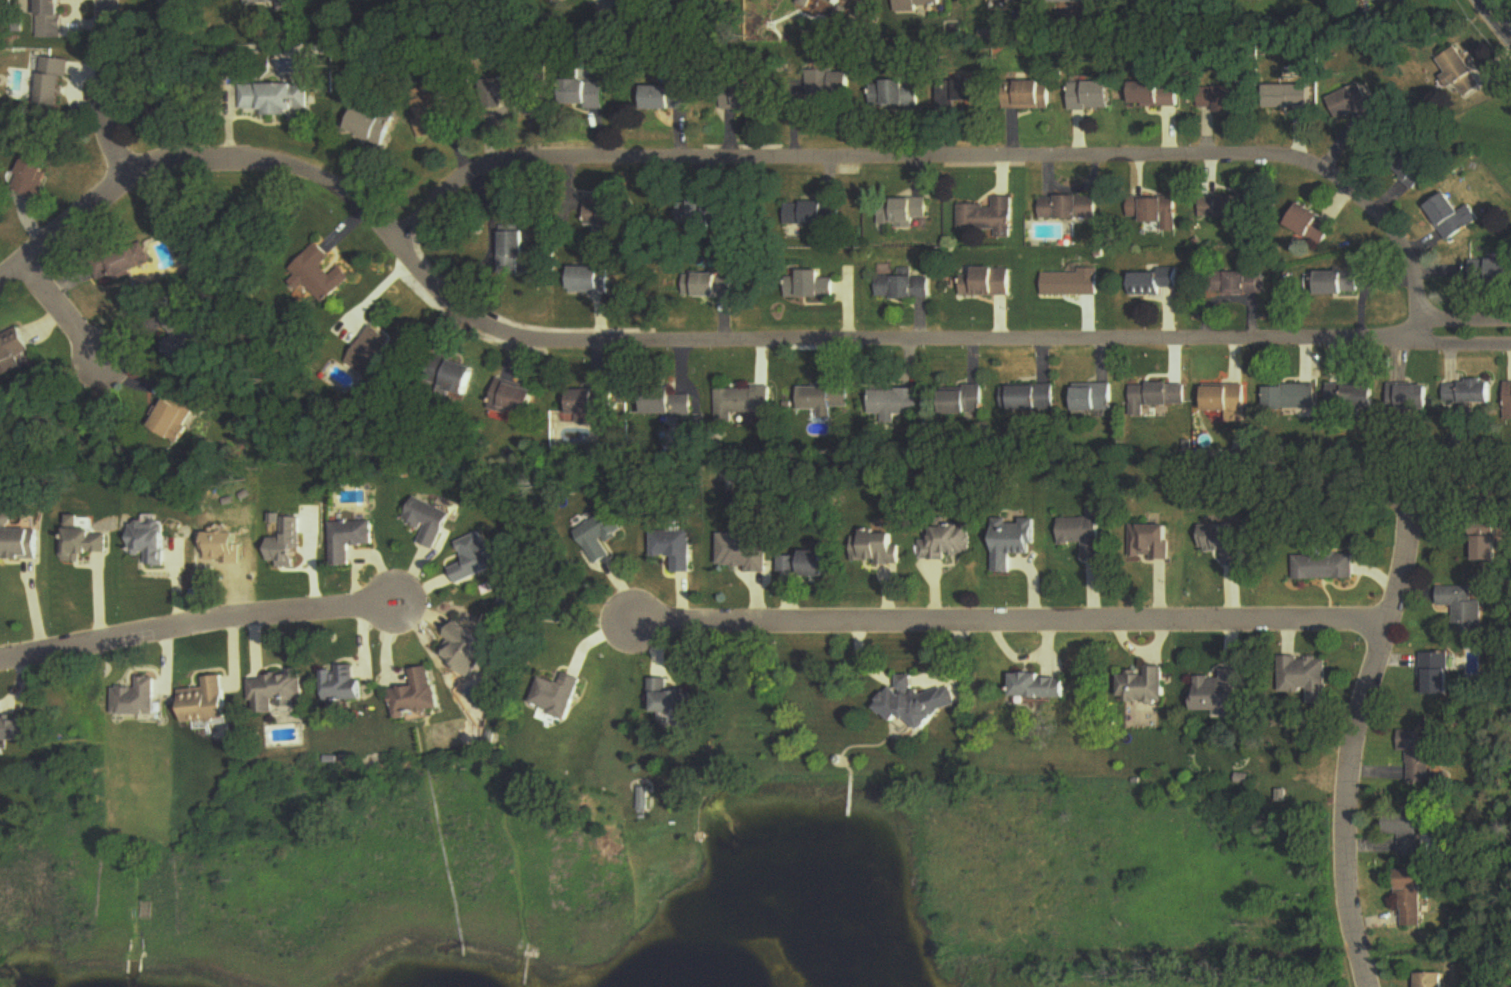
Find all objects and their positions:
building: (1395, 0)
building: (272, 2)
building: (1075, 2)
building: (172, 3)
building: (838, 3)
building: (630, 5)
building: (921, 6)
building: (53, 18)
road: (1494, 19)
building: (1466, 73)
building: (56, 82)
building: (842, 84)
road: (101, 88)
building: (520, 92)
building: (963, 93)
building: (895, 94)
building: (588, 95)
building: (1159, 95)
building: (1028, 96)
building: (1094, 96)
building: (746, 97)
building: (1227, 98)
building: (1286, 98)
building: (276, 99)
building: (670, 99)
building: (1362, 109)
building: (431, 114)
building: (372, 126)
road: (946, 153)
building: (1415, 172)
building: (33, 177)
building: (1071, 208)
building: (1231, 208)
building: (1156, 211)
building: (714, 213)
building: (906, 213)
building: (815, 215)
building: (1454, 217)
building: (993, 218)
building: (1314, 226)
road: (490, 236)
building: (515, 250)
building: (131, 266)
building: (1491, 271)
building: (321, 275)
building: (592, 282)
building: (1153, 282)
building: (989, 283)
building: (1073, 284)
building: (1238, 284)
building: (1340, 284)
building: (717, 286)
building: (809, 286)
building: (907, 289)
road: (66, 310)
road: (704, 336)
building: (193, 341)
building: (15, 355)
building: (375, 356)
building: (462, 379)
building: (1476, 394)
building: (1291, 397)
building: (1030, 398)
building: (1094, 398)
building: (1157, 398)
building: (1354, 398)
building: (516, 400)
building: (826, 400)
building: (1227, 400)
building: (1412, 400)
building: (966, 401)
building: (1508, 402)
building: (589, 403)
building: (744, 404)
building: (897, 404)
building: (674, 406)
building: (180, 416)
building: (432, 523)
building: (1085, 534)
building: (601, 537)
building: (352, 540)
building: (155, 542)
building: (1223, 542)
building: (949, 543)
building: (1014, 543)
building: (1151, 543)
building: (91, 544)
building: (22, 546)
building: (672, 549)
building: (881, 549)
building: (1489, 549)
building: (741, 551)
building: (480, 559)
building: (803, 563)
building: (1323, 568)
building: (1463, 609)
road: (1002, 621)
road: (197, 626)
building: (467, 651)
building: (1303, 673)
building: (1436, 674)
building: (346, 686)
building: (1040, 687)
building: (1144, 688)
building: (279, 693)
building: (1219, 694)
building: (419, 696)
building: (558, 697)
building: (137, 700)
building: (669, 700)
building: (209, 703)
building: (913, 703)
building: (17, 730)
road: (1359, 733)
building: (1417, 753)
building: (1409, 833)
building: (1412, 896)
building: (1430, 980)

